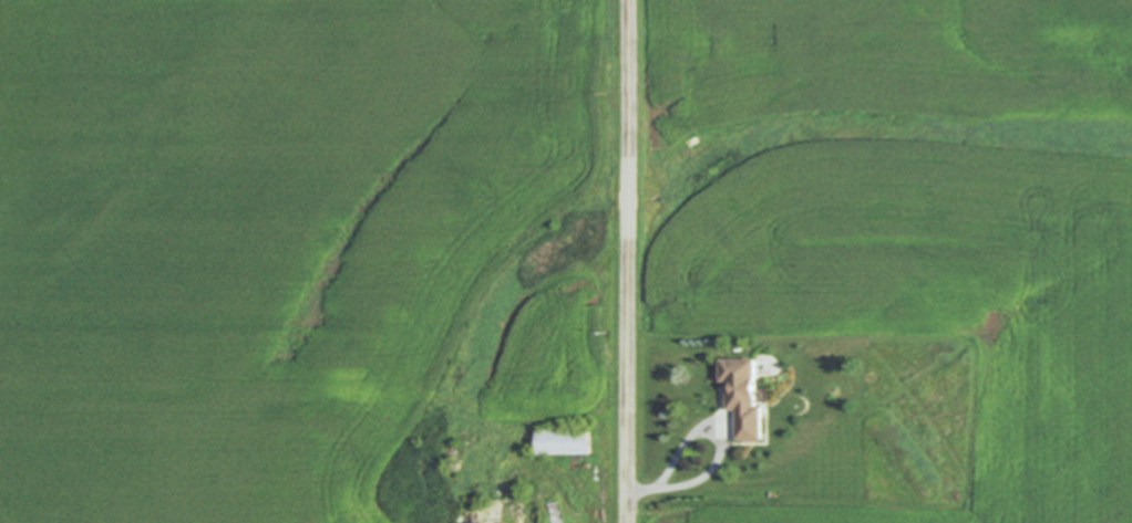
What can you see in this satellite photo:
road: (630, 261)
building: (749, 398)
building: (568, 442)
building: (738, 489)

